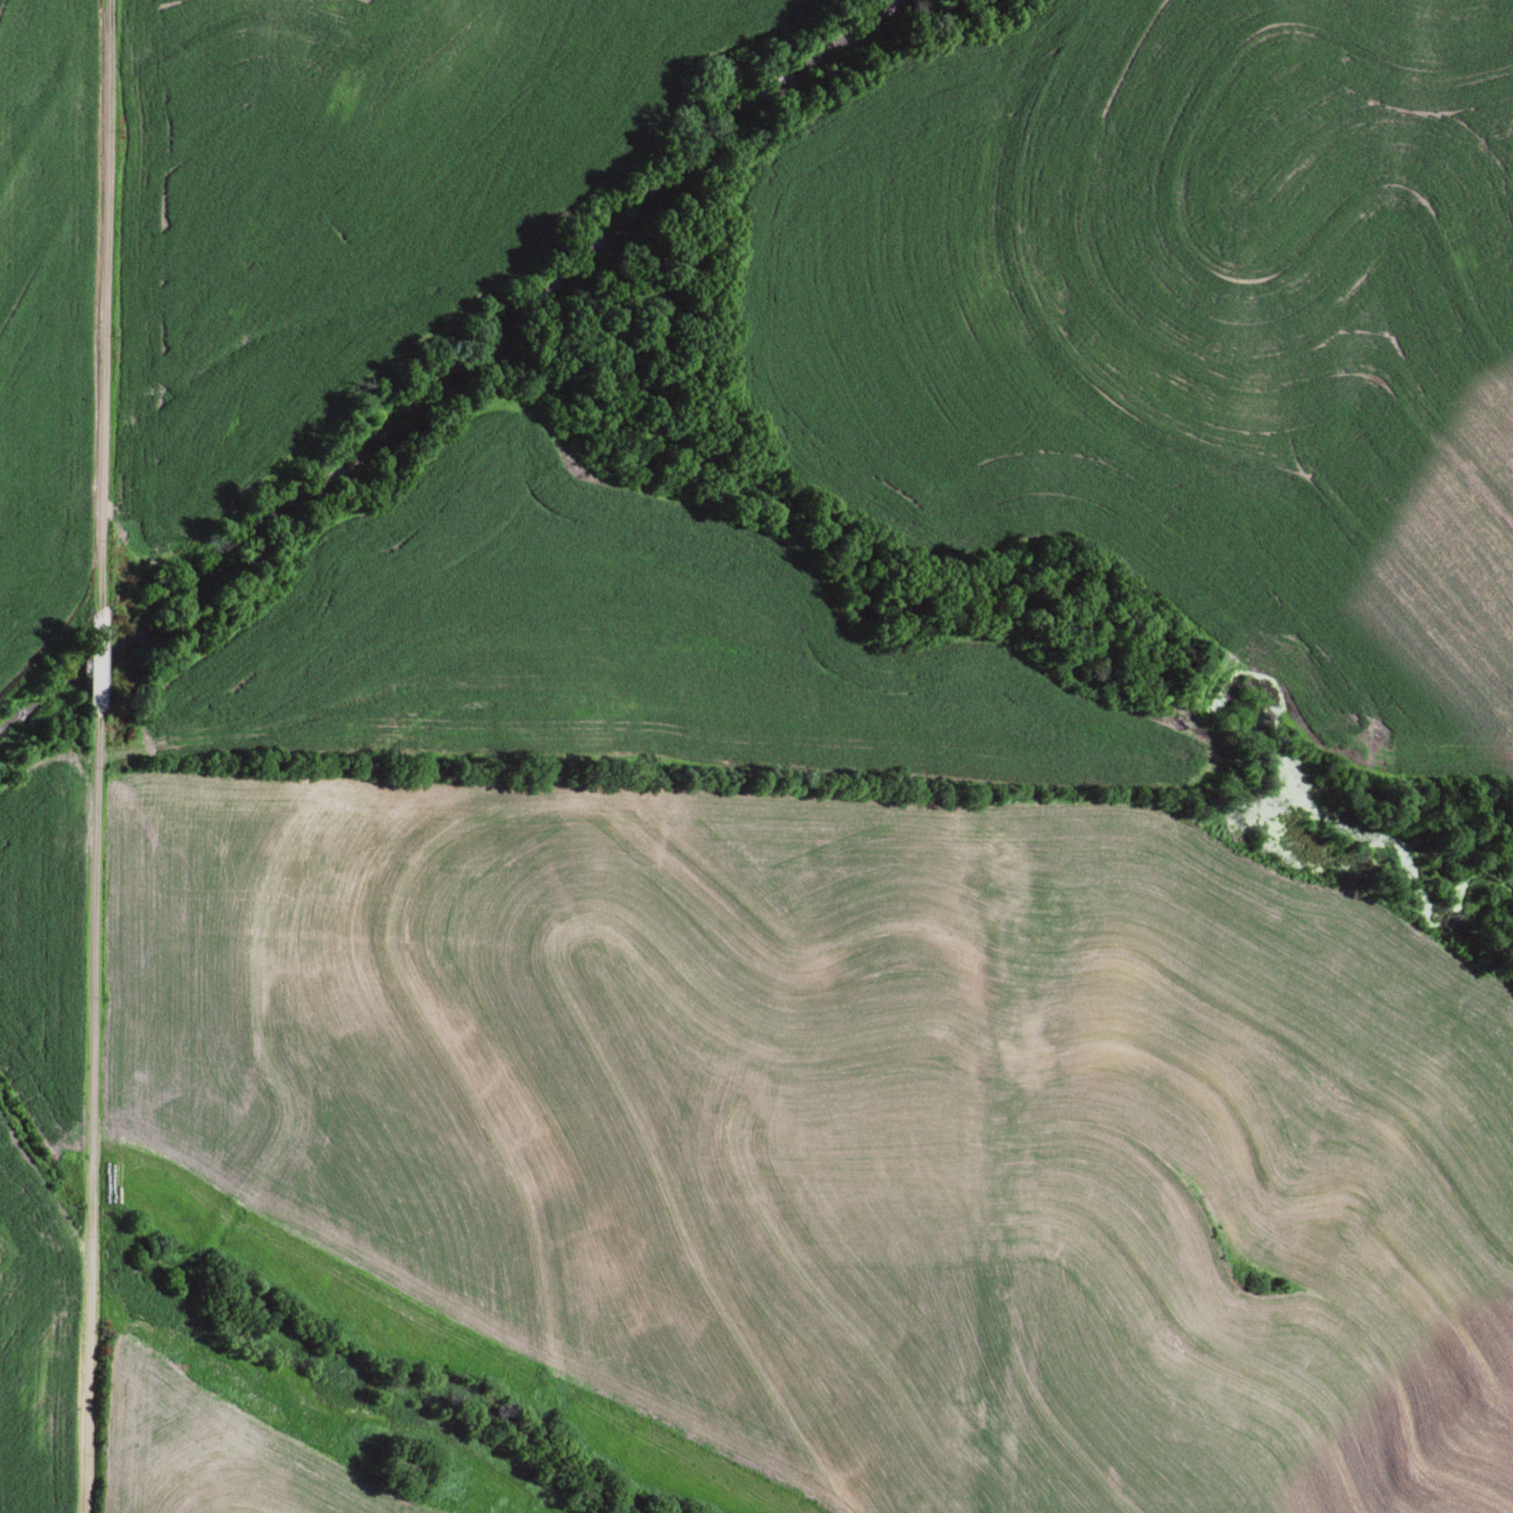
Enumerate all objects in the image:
road: (102, 756)

